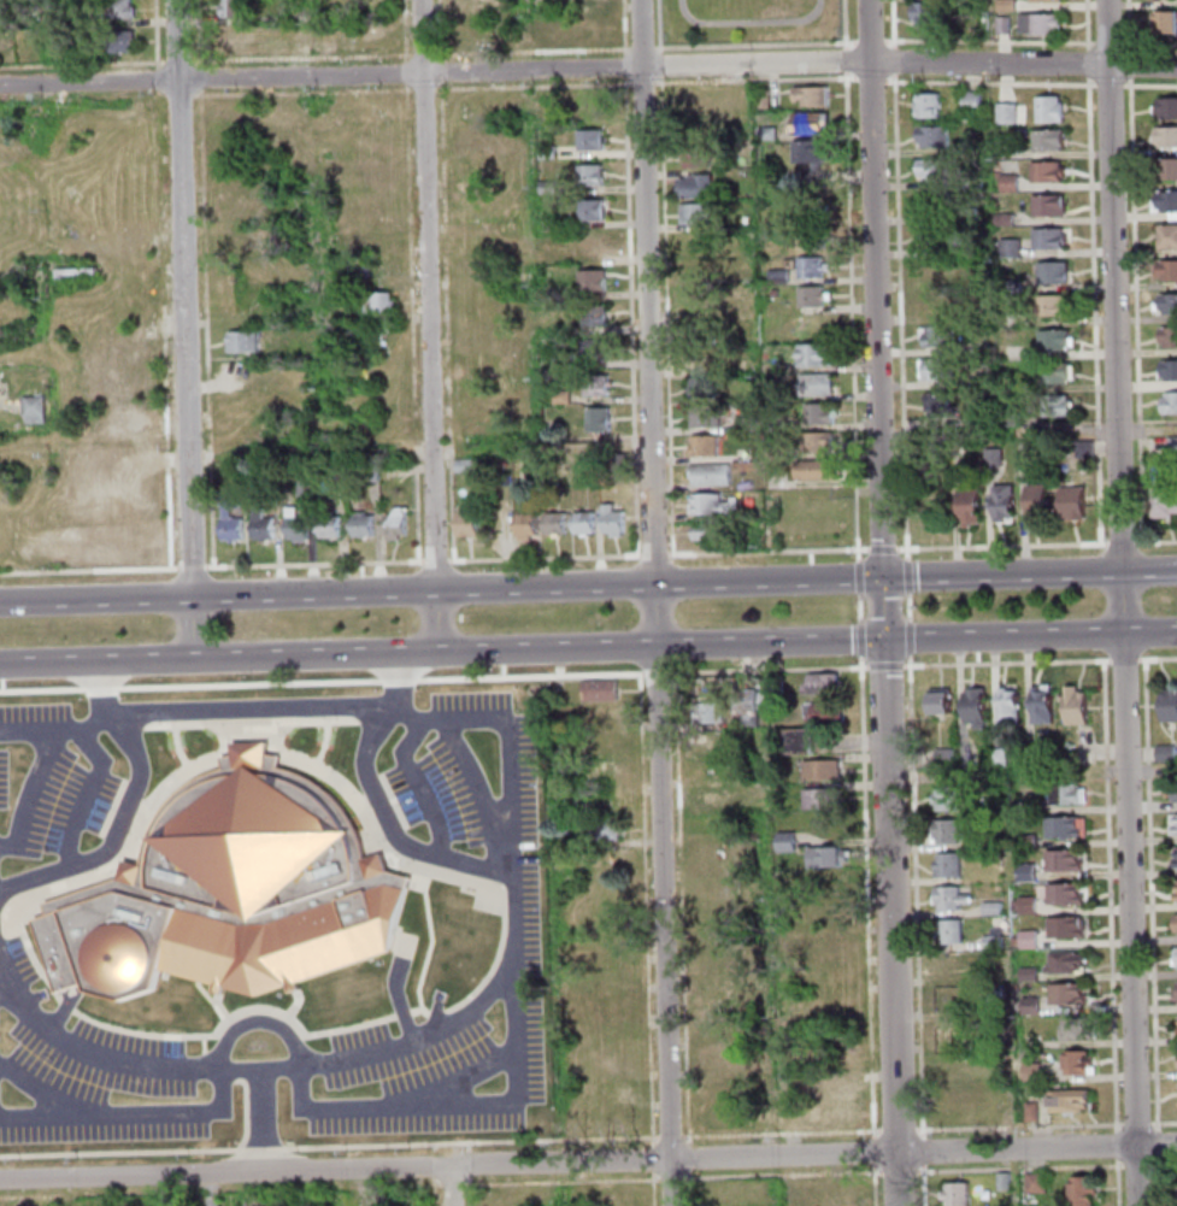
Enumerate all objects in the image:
building: (1042, 0)
building: (1154, 0)
building: (587, 1)
building: (1002, 5)
building: (228, 8)
building: (116, 10)
building: (923, 14)
road: (746, 20)
building: (1163, 23)
road: (840, 24)
building: (1037, 24)
building: (1000, 25)
road: (1125, 25)
building: (584, 27)
road: (655, 27)
road: (619, 28)
road: (400, 30)
road: (437, 30)
road: (866, 30)
road: (196, 33)
road: (153, 34)
building: (239, 37)
road: (984, 41)
building: (117, 42)
road: (866, 42)
road: (1104, 43)
road: (1147, 45)
building: (81, 46)
road: (751, 46)
road: (638, 49)
road: (529, 52)
road: (419, 54)
road: (298, 55)
road: (841, 60)
road: (175, 61)
road: (81, 64)
road: (1022, 64)
road: (1126, 65)
road: (657, 66)
road: (620, 67)
road: (891, 69)
road: (1085, 71)
road: (439, 72)
road: (154, 73)
road: (402, 73)
road: (434, 73)
road: (198, 77)
road: (867, 80)
road: (752, 81)
road: (638, 83)
road: (987, 83)
road: (530, 86)
road: (1106, 86)
road: (1148, 86)
road: (420, 89)
road: (299, 93)
building: (807, 95)
building: (760, 99)
road: (19, 100)
building: (969, 101)
building: (584, 105)
building: (924, 105)
building: (1166, 108)
building: (1046, 110)
building: (1004, 113)
building: (804, 124)
building: (764, 134)
building: (929, 136)
building: (1165, 136)
building: (587, 139)
building: (1046, 140)
building: (966, 148)
building: (805, 152)
building: (545, 153)
building: (694, 158)
building: (929, 169)
building: (1165, 169)
building: (1043, 171)
building: (587, 175)
building: (1006, 184)
building: (692, 186)
building: (545, 187)
building: (930, 202)
building: (1164, 202)
road: (200, 205)
building: (1046, 205)
building: (589, 211)
building: (965, 213)
building: (693, 214)
building: (1172, 216)
building: (745, 219)
building: (1001, 219)
building: (938, 235)
building: (1166, 236)
building: (807, 237)
building: (1046, 239)
building: (590, 245)
building: (1007, 247)
road: (441, 263)
road: (407, 265)
building: (807, 267)
building: (935, 269)
building: (1166, 271)
building: (1049, 272)
building: (75, 273)
building: (776, 276)
building: (589, 281)
building: (1011, 286)
building: (808, 296)
building: (696, 300)
building: (377, 302)
building: (934, 302)
building: (1167, 304)
building: (738, 306)
building: (1046, 306)
road: (1090, 310)
road: (1131, 310)
building: (592, 316)
road: (628, 316)
road: (663, 316)
road: (848, 316)
road: (896, 317)
road: (428, 325)
road: (182, 329)
road: (1113, 329)
building: (700, 333)
building: (936, 336)
building: (1167, 337)
building: (1051, 340)
building: (240, 342)
building: (590, 349)
building: (707, 355)
building: (813, 355)
road: (875, 364)
building: (932, 369)
building: (1167, 370)
building: (1048, 372)
building: (813, 384)
building: (593, 386)
building: (700, 387)
building: (557, 396)
building: (1169, 402)
building: (935, 405)
building: (1054, 406)
building: (31, 410)
building: (816, 413)
building: (702, 417)
building: (1012, 418)
building: (596, 419)
building: (978, 419)
building: (743, 423)
road: (206, 440)
building: (813, 442)
building: (701, 446)
building: (1171, 446)
building: (773, 453)
building: (991, 458)
building: (614, 461)
building: (461, 466)
building: (590, 469)
building: (812, 470)
building: (370, 471)
building: (265, 472)
building: (337, 473)
building: (708, 475)
building: (302, 487)
road: (164, 489)
building: (1163, 500)
road: (447, 501)
building: (1000, 501)
building: (1034, 501)
building: (1070, 502)
road: (413, 504)
building: (708, 505)
building: (966, 506)
building: (223, 513)
building: (610, 520)
building: (581, 522)
building: (393, 523)
building: (553, 523)
building: (259, 524)
building: (326, 524)
building: (359, 524)
building: (465, 524)
building: (293, 525)
building: (523, 526)
building: (701, 531)
road: (1153, 541)
road: (1118, 543)
road: (999, 546)
road: (878, 548)
road: (764, 551)
road: (651, 554)
road: (541, 558)
road: (431, 561)
road: (210, 565)
road: (904, 569)
road: (855, 571)
traffic signals: (881, 578)
road: (588, 586)
road: (653, 602)
traffic signals: (883, 640)
road: (588, 648)
road: (1155, 659)
road: (1120, 660)
road: (1004, 663)
road: (882, 666)
road: (765, 669)
road: (654, 673)
road: (638, 675)
road: (395, 680)
building: (775, 683)
road: (246, 684)
building: (819, 684)
road: (39, 689)
road: (96, 689)
building: (601, 689)
building: (937, 704)
building: (1038, 705)
building: (1167, 705)
building: (742, 707)
building: (971, 707)
building: (1006, 707)
building: (1071, 707)
road: (247, 710)
building: (706, 713)
building: (819, 713)
building: (602, 714)
road: (370, 716)
road: (124, 720)
road: (247, 724)
road: (55, 730)
road: (248, 734)
building: (790, 741)
road: (320, 745)
building: (606, 745)
road: (175, 748)
building: (1163, 754)
building: (1028, 757)
building: (942, 758)
building: (995, 758)
building: (818, 770)
road: (416, 786)
road: (25, 792)
building: (1173, 793)
road: (81, 794)
road: (478, 795)
building: (1065, 795)
building: (711, 798)
road: (638, 799)
building: (820, 799)
building: (944, 799)
road: (376, 802)
building: (1025, 807)
road: (123, 808)
road: (363, 823)
building: (1172, 824)
road: (134, 829)
building: (1063, 829)
building: (607, 830)
building: (942, 833)
building: (1023, 841)
building: (783, 842)
road: (381, 853)
building: (1172, 857)
building: (823, 858)
road: (120, 860)
building: (1061, 861)
building: (944, 866)
building: (1024, 872)
building: (834, 883)
building: (229, 893)
building: (1064, 894)
building: (1175, 894)
road: (1147, 896)
road: (1106, 898)
building: (947, 899)
road: (912, 901)
road: (864, 902)
building: (1022, 906)
building: (989, 908)
road: (678, 911)
building: (834, 913)
parking lot: (266, 918)
building: (1175, 923)
building: (1061, 928)
building: (947, 931)
road: (1128, 933)
road: (889, 936)
building: (1025, 940)
building: (825, 942)
building: (989, 942)
road: (428, 945)
road: (28, 954)
building: (1175, 958)
road: (492, 961)
building: (1061, 963)
building: (949, 964)
building: (831, 971)
building: (610, 975)
building: (1026, 975)
road: (510, 976)
road: (394, 992)
building: (1175, 993)
road: (202, 994)
building: (1064, 994)
building: (993, 996)
building: (951, 998)
building: (614, 1004)
road: (64, 1005)
road: (293, 1005)
building: (1028, 1006)
road: (216, 1007)
road: (413, 1011)
road: (58, 1012)
road: (434, 1013)
road: (231, 1014)
road: (401, 1014)
road: (254, 1023)
building: (951, 1030)
building: (1072, 1030)
building: (1176, 1031)
building: (1029, 1042)
road: (201, 1045)
road: (205, 1064)
building: (1076, 1064)
road: (261, 1071)
building: (1029, 1072)
road: (225, 1077)
road: (454, 1081)
building: (834, 1087)
building: (724, 1088)
building: (613, 1092)
road: (40, 1094)
building: (954, 1099)
building: (1065, 1101)
building: (1028, 1111)
road: (128, 1113)
road: (242, 1113)
building: (838, 1113)
building: (724, 1117)
building: (612, 1120)
road: (259, 1122)
road: (1161, 1123)
road: (1132, 1124)
road: (1016, 1126)
road: (895, 1129)
road: (778, 1134)
road: (667, 1136)
road: (470, 1142)
road: (1154, 1145)
road: (1112, 1146)
road: (465, 1147)
road: (260, 1149)
road: (918, 1151)
road: (870, 1152)
road: (117, 1153)
road: (649, 1159)
road: (687, 1159)
road: (588, 1160)
road: (1161, 1164)
road: (465, 1165)
road: (1134, 1166)
road: (1017, 1169)
road: (895, 1172)
road: (778, 1176)
road: (667, 1179)
building: (1001, 1181)
road: (558, 1182)
road: (1114, 1182)
road: (1155, 1182)
road: (466, 1183)
building: (1032, 1183)
road: (919, 1184)
road: (447, 1186)
road: (449, 1186)
road: (871, 1186)
road: (430, 1187)
road: (687, 1188)
road: (205, 1189)
road: (649, 1189)
building: (1078, 1192)
building: (954, 1194)
building: (616, 1195)
road: (431, 1196)
road: (467, 1196)
building: (264, 1201)

